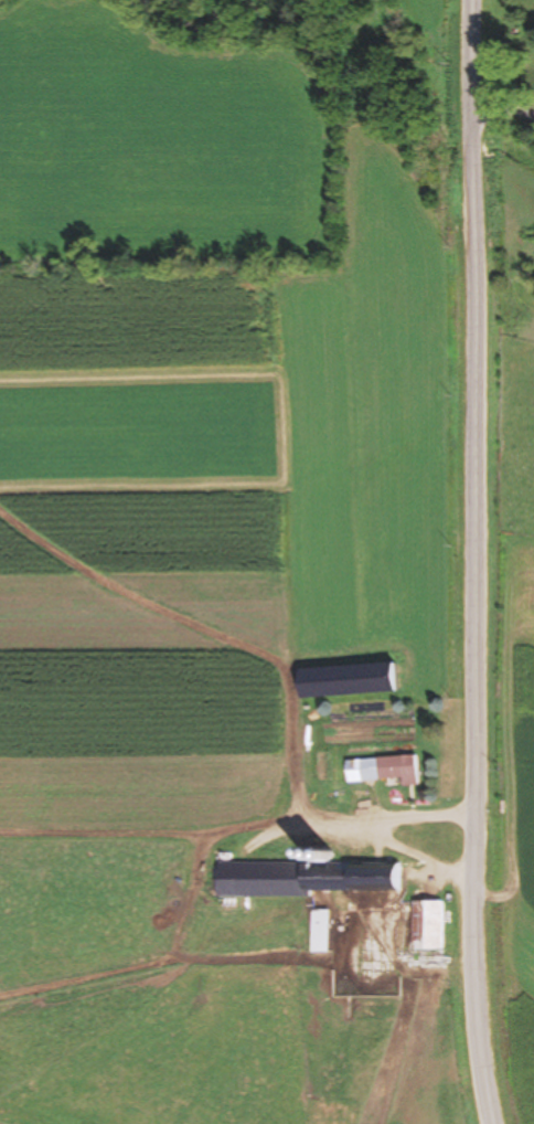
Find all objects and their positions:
road: (501, 108)
road: (466, 563)
building: (394, 770)
building: (335, 778)
building: (374, 895)

